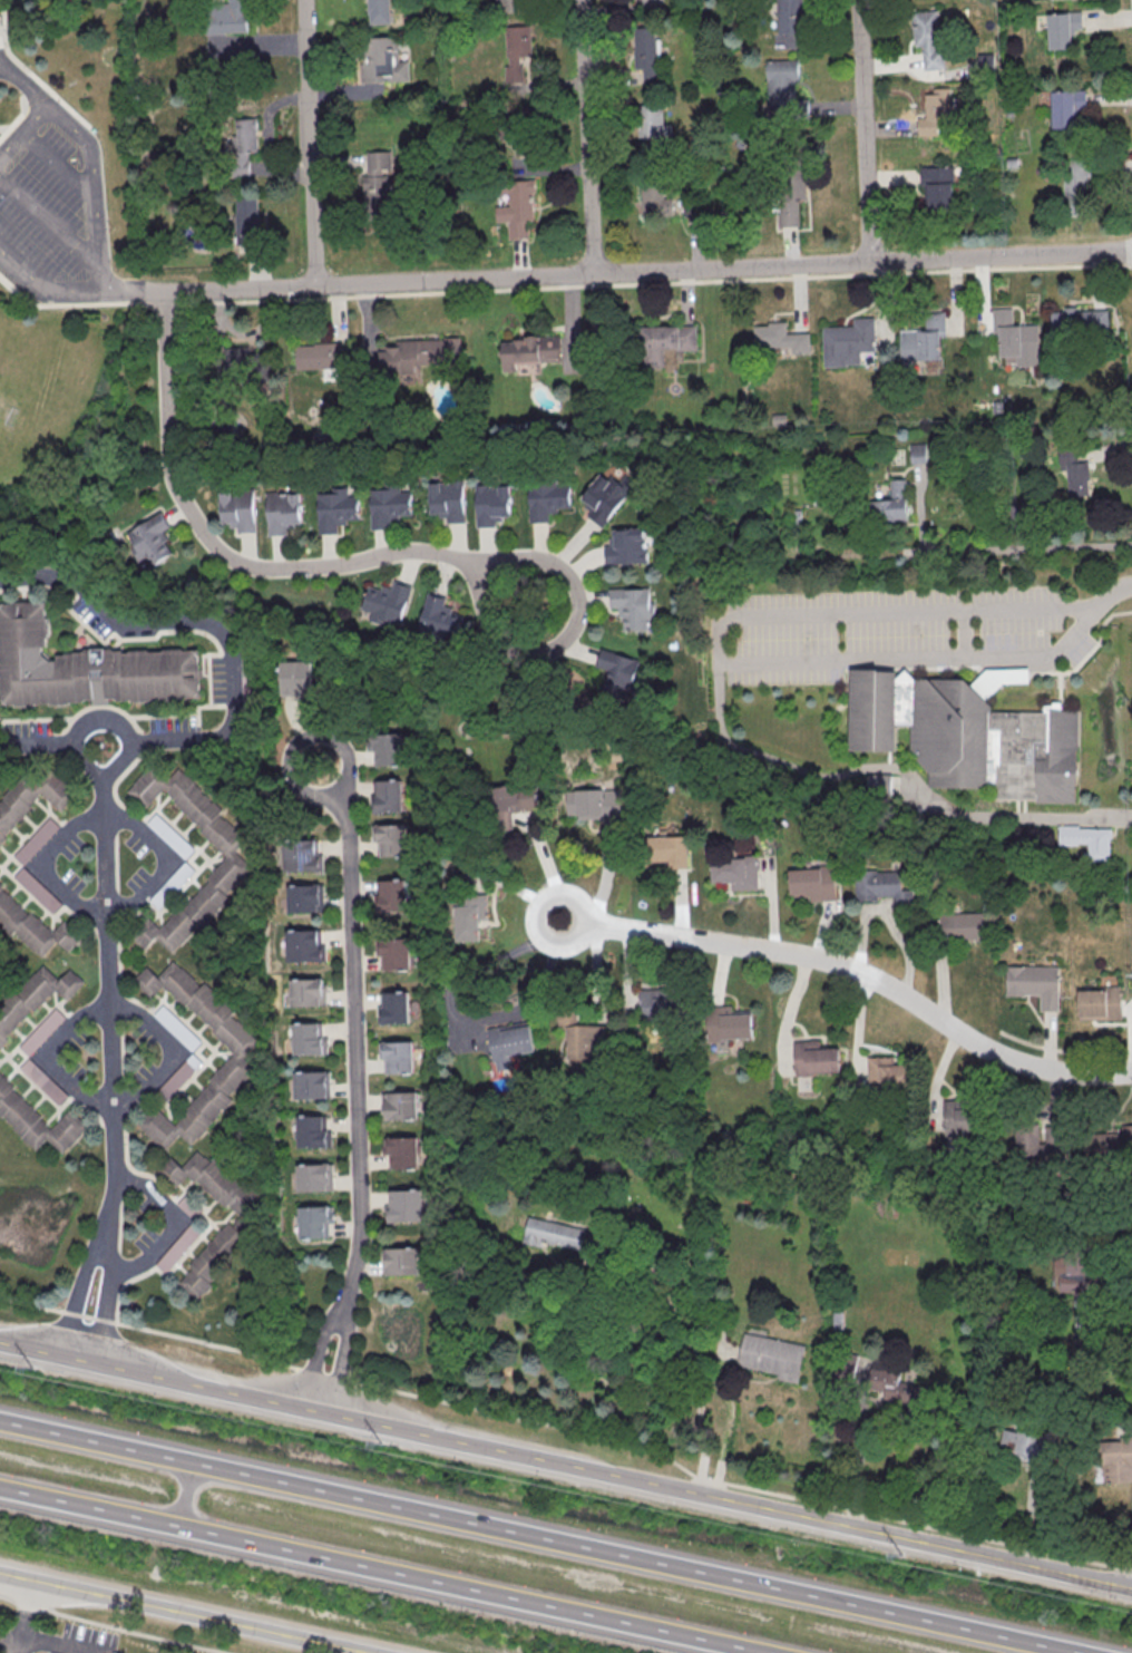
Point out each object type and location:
building: (646, 1)
building: (510, 2)
building: (374, 12)
building: (791, 16)
building: (1061, 28)
building: (929, 38)
road: (38, 78)
road: (26, 84)
road: (48, 91)
building: (783, 91)
road: (37, 97)
road: (23, 104)
building: (1065, 106)
building: (936, 111)
road: (18, 119)
building: (654, 124)
road: (4, 129)
road: (865, 132)
road: (588, 138)
road: (311, 143)
building: (242, 147)
road: (57, 166)
building: (1079, 175)
building: (790, 182)
building: (378, 185)
building: (936, 188)
building: (657, 195)
parking lot: (53, 206)
building: (518, 208)
building: (246, 218)
road: (49, 225)
road: (97, 251)
road: (636, 274)
road: (648, 284)
road: (78, 305)
building: (1077, 323)
building: (779, 337)
building: (1015, 338)
building: (924, 340)
building: (656, 342)
building: (840, 343)
building: (530, 349)
building: (420, 352)
building: (320, 356)
building: (235, 362)
park: (9, 383)
building: (918, 453)
building: (1075, 473)
building: (606, 497)
building: (546, 498)
building: (448, 499)
building: (492, 504)
building: (892, 504)
building: (387, 505)
building: (238, 508)
building: (334, 509)
building: (283, 511)
building: (149, 539)
building: (627, 546)
road: (1025, 548)
road: (222, 551)
road: (1114, 593)
building: (387, 603)
building: (634, 606)
building: (437, 615)
road: (204, 621)
road: (718, 651)
road: (521, 652)
building: (85, 667)
building: (296, 679)
building: (968, 736)
road: (36, 743)
building: (387, 748)
road: (892, 768)
building: (885, 785)
building: (388, 796)
building: (32, 797)
building: (517, 797)
building: (592, 804)
building: (170, 836)
building: (1087, 838)
building: (36, 839)
building: (390, 839)
building: (667, 850)
building: (232, 855)
building: (301, 855)
road: (163, 859)
road: (45, 863)
parking lot: (48, 864)
building: (735, 872)
building: (179, 877)
building: (813, 882)
building: (882, 887)
building: (37, 889)
building: (390, 894)
building: (304, 897)
building: (469, 915)
road: (107, 925)
building: (963, 925)
building: (33, 926)
building: (304, 945)
building: (393, 953)
road: (858, 968)
building: (1034, 984)
building: (309, 991)
building: (35, 998)
building: (655, 1002)
building: (1099, 1003)
building: (394, 1007)
road: (788, 1009)
road: (468, 1020)
building: (729, 1023)
building: (177, 1028)
road: (354, 1030)
building: (41, 1032)
building: (309, 1038)
building: (588, 1041)
building: (509, 1043)
road: (173, 1050)
building: (241, 1053)
road: (53, 1054)
parking lot: (55, 1056)
building: (397, 1057)
building: (816, 1058)
building: (887, 1071)
building: (179, 1076)
building: (43, 1080)
building: (311, 1085)
building: (400, 1105)
building: (960, 1117)
building: (38, 1120)
building: (313, 1130)
building: (401, 1153)
building: (315, 1177)
building: (404, 1205)
building: (315, 1222)
building: (237, 1223)
road: (172, 1225)
building: (555, 1234)
building: (401, 1261)
building: (1077, 1276)
road: (1112, 1294)
road: (76, 1296)
road: (106, 1303)
road: (319, 1351)
building: (771, 1355)
road: (344, 1357)
power tower: (21, 1363)
road: (696, 1369)
building: (888, 1381)
road: (859, 1403)
road: (568, 1428)
power tower: (326, 1431)
building: (1025, 1446)
building: (1115, 1460)
road: (565, 1465)
road: (183, 1495)
power tower: (628, 1497)
road: (544, 1537)
power tower: (935, 1563)
road: (383, 1571)
road: (28, 1595)
road: (182, 1614)
road: (111, 1625)
road: (21, 1631)
road: (9, 1642)
road: (52, 1646)

